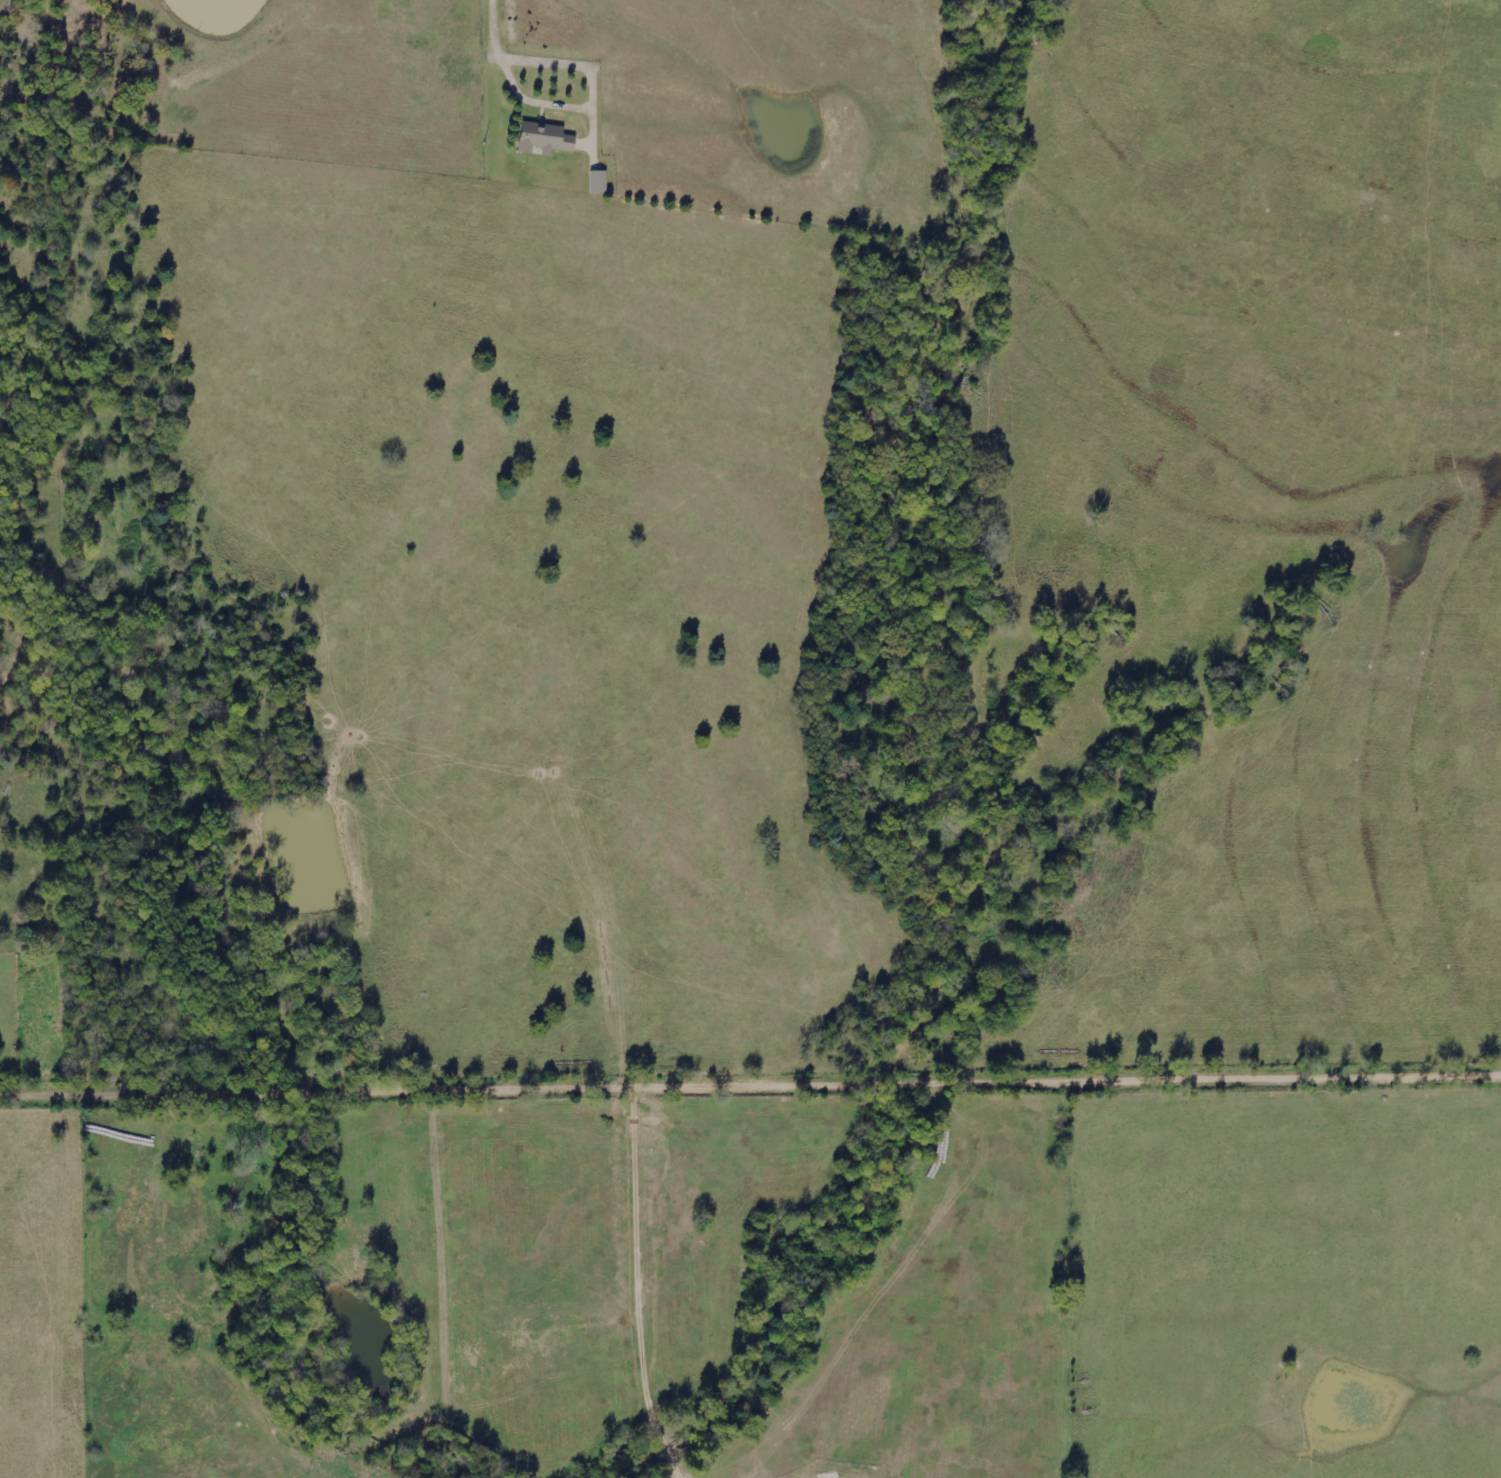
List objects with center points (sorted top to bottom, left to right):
road: (502, 28)
road: (601, 97)
building: (545, 139)
building: (599, 182)
road: (750, 1088)

